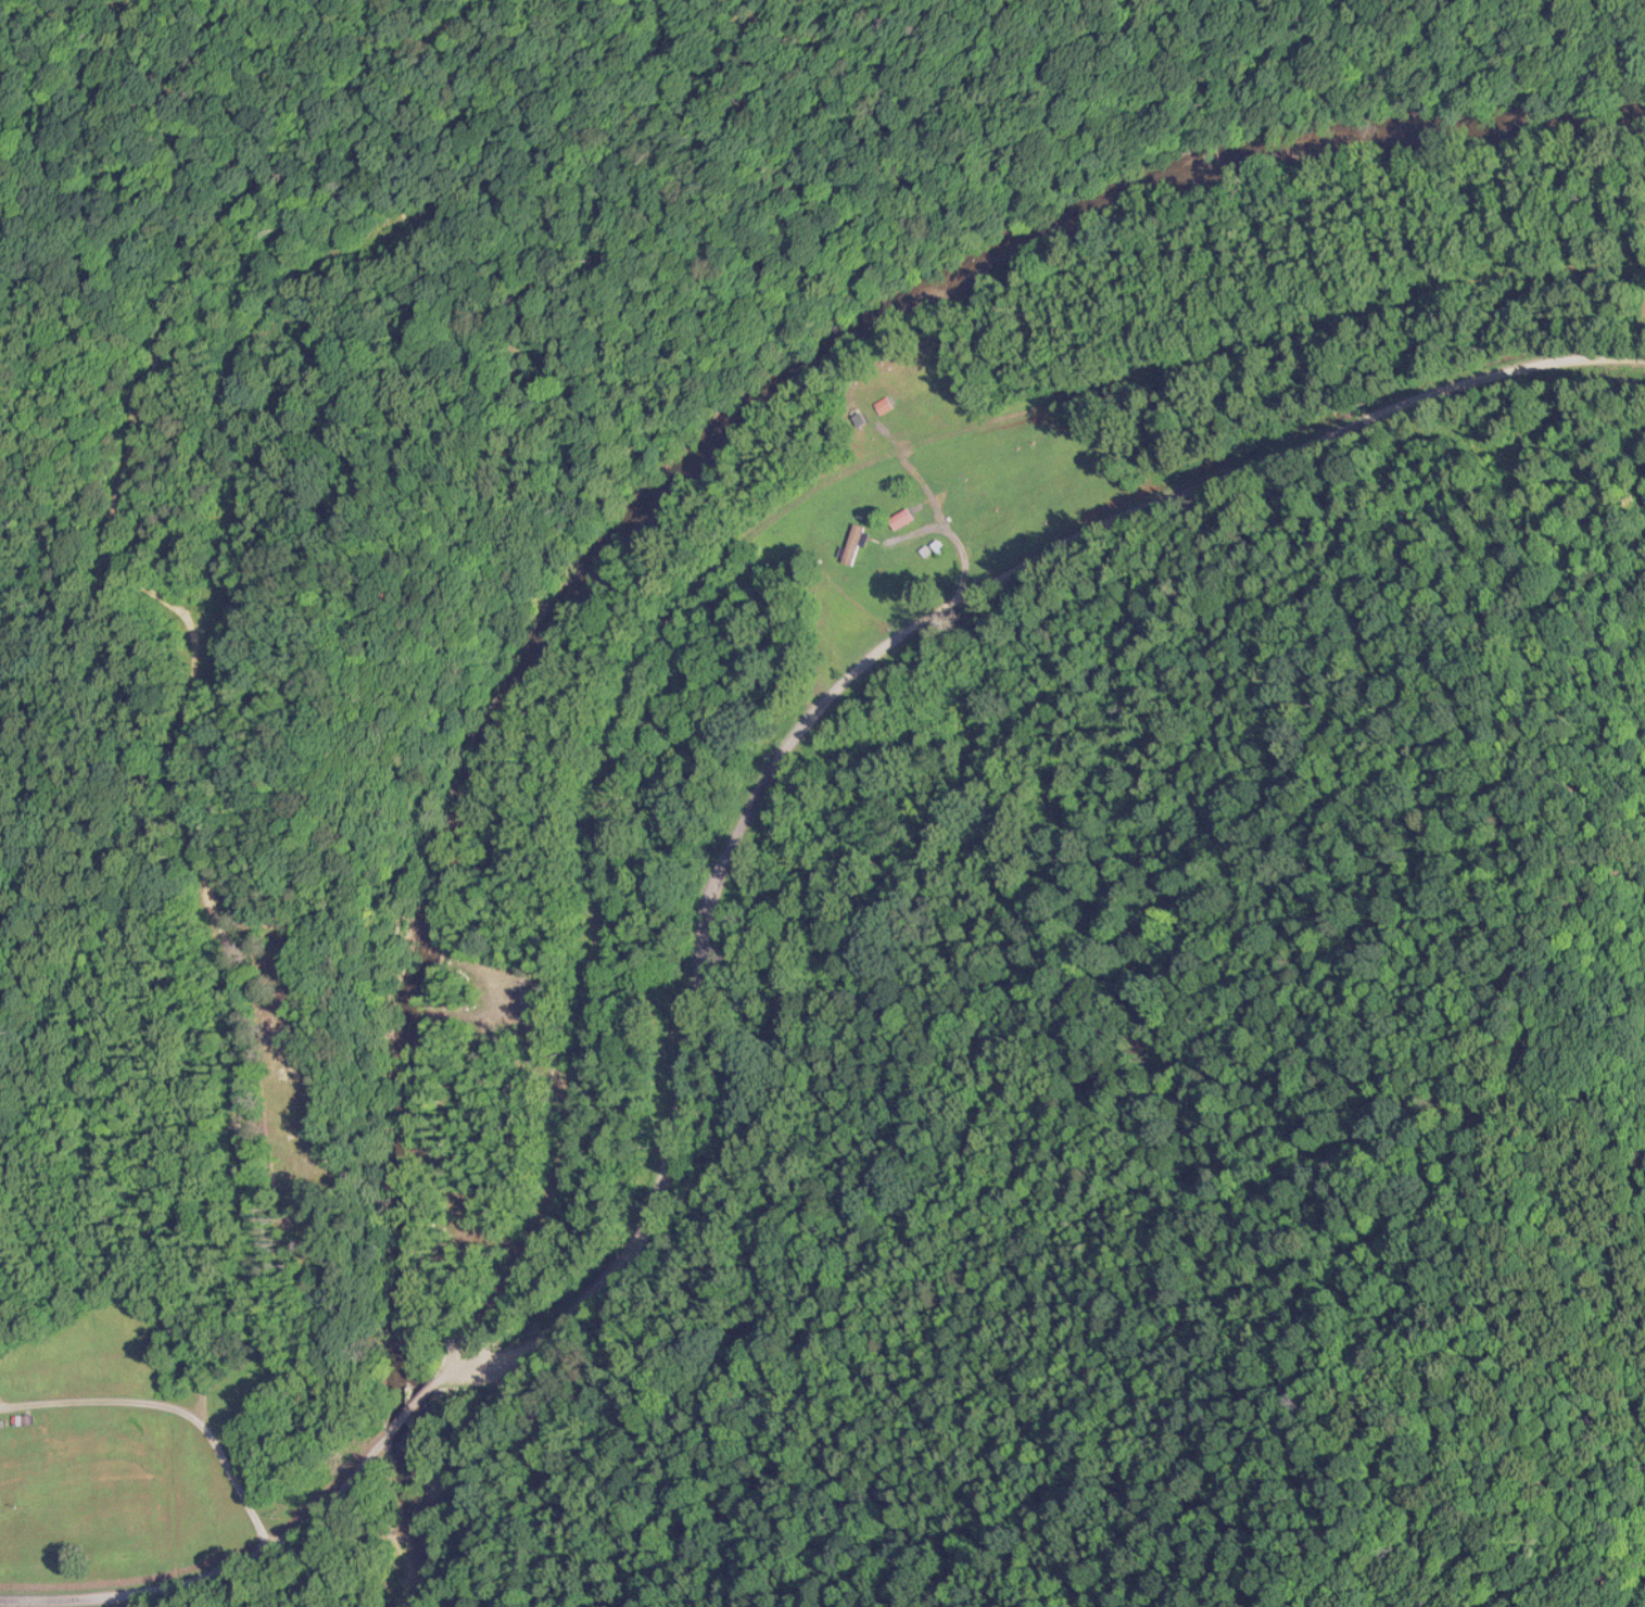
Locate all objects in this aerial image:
building: (897, 518)
road: (958, 748)
road: (714, 885)

